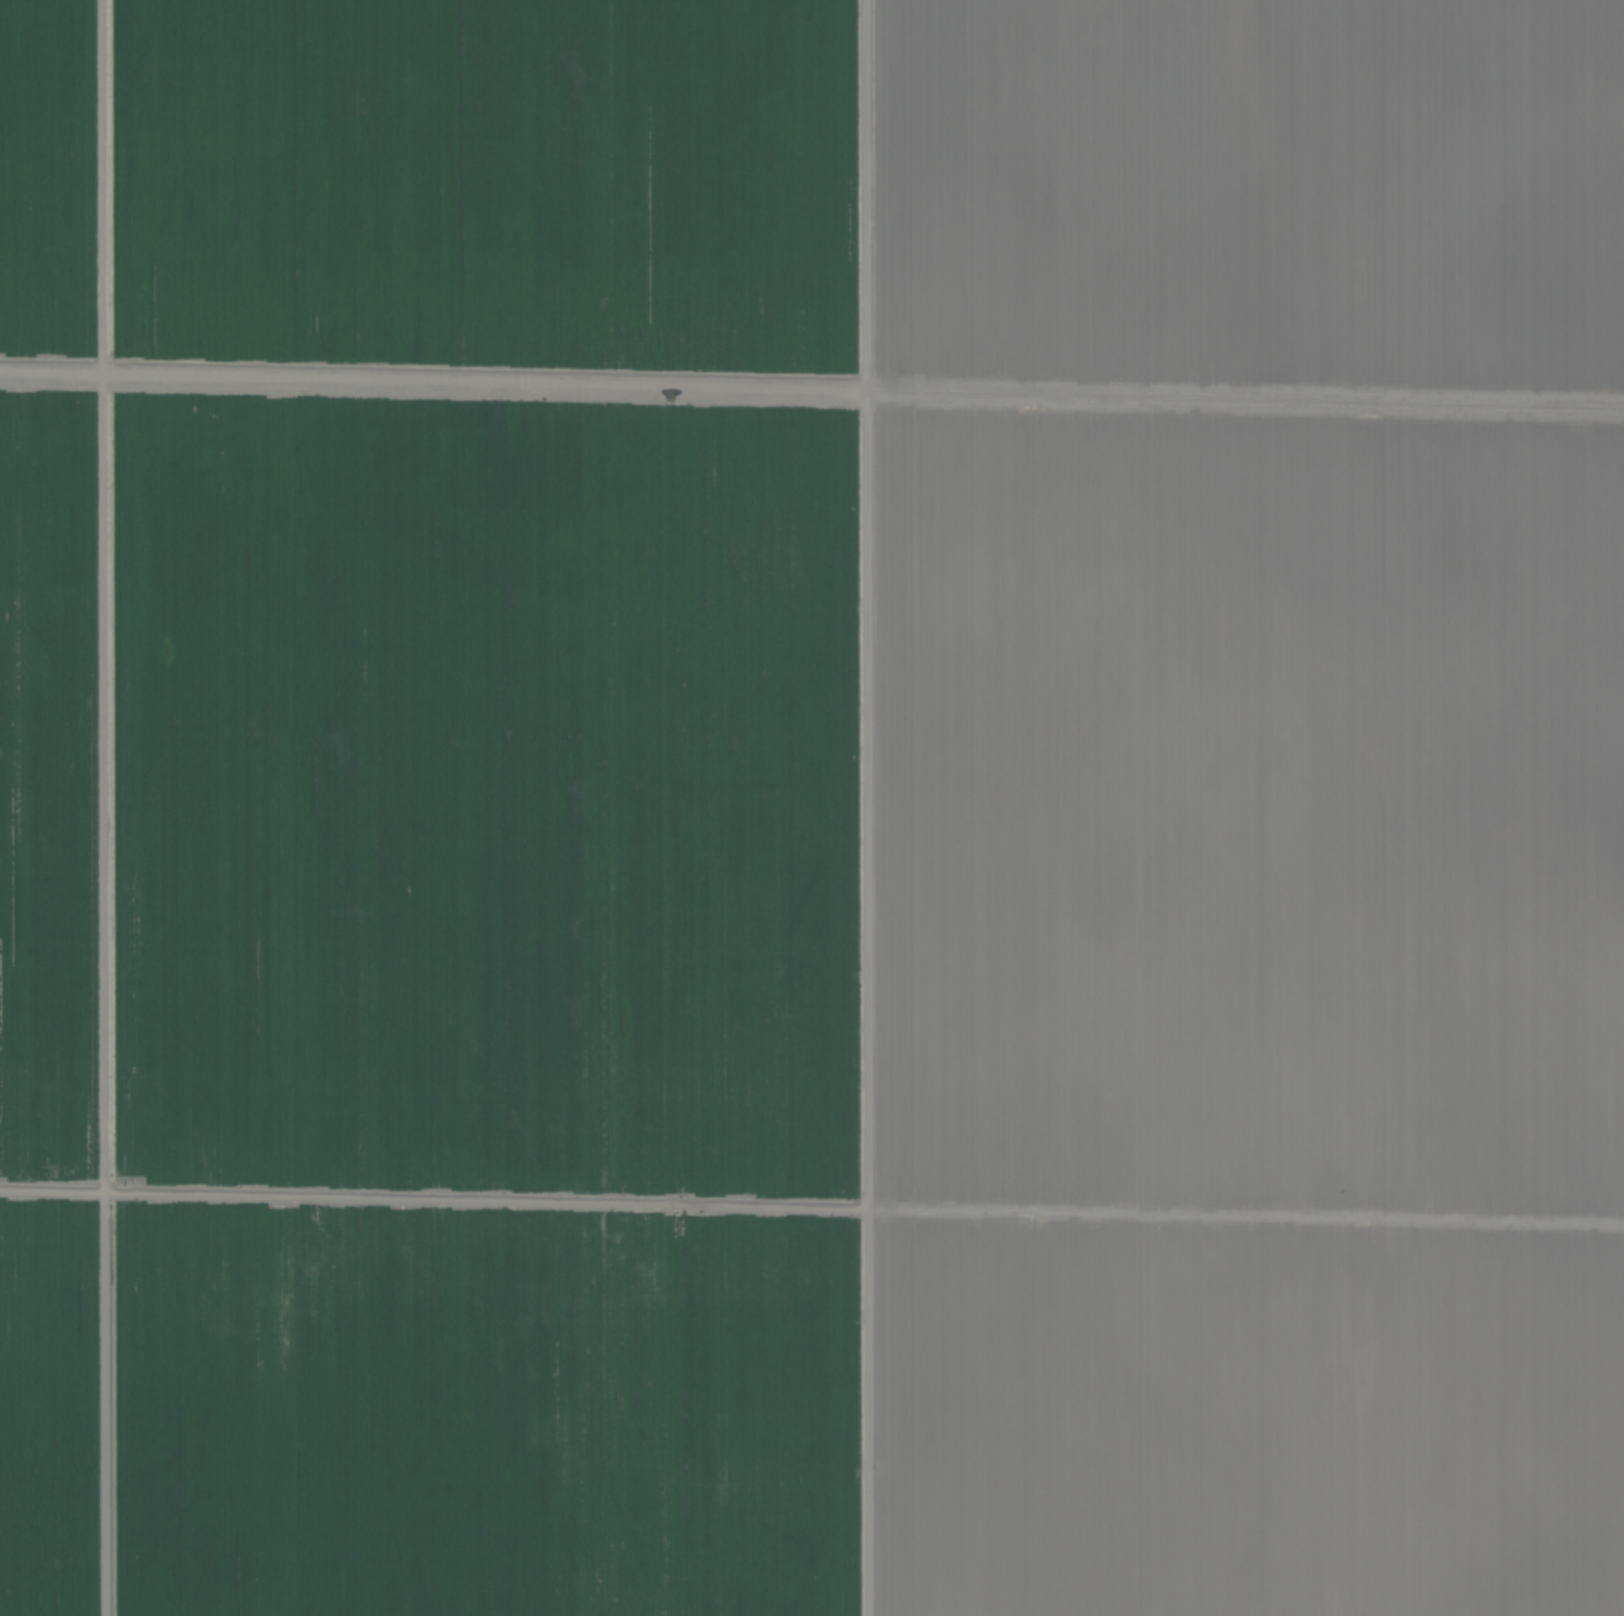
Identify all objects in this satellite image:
crop: (812, 807)
road: (846, 807)

